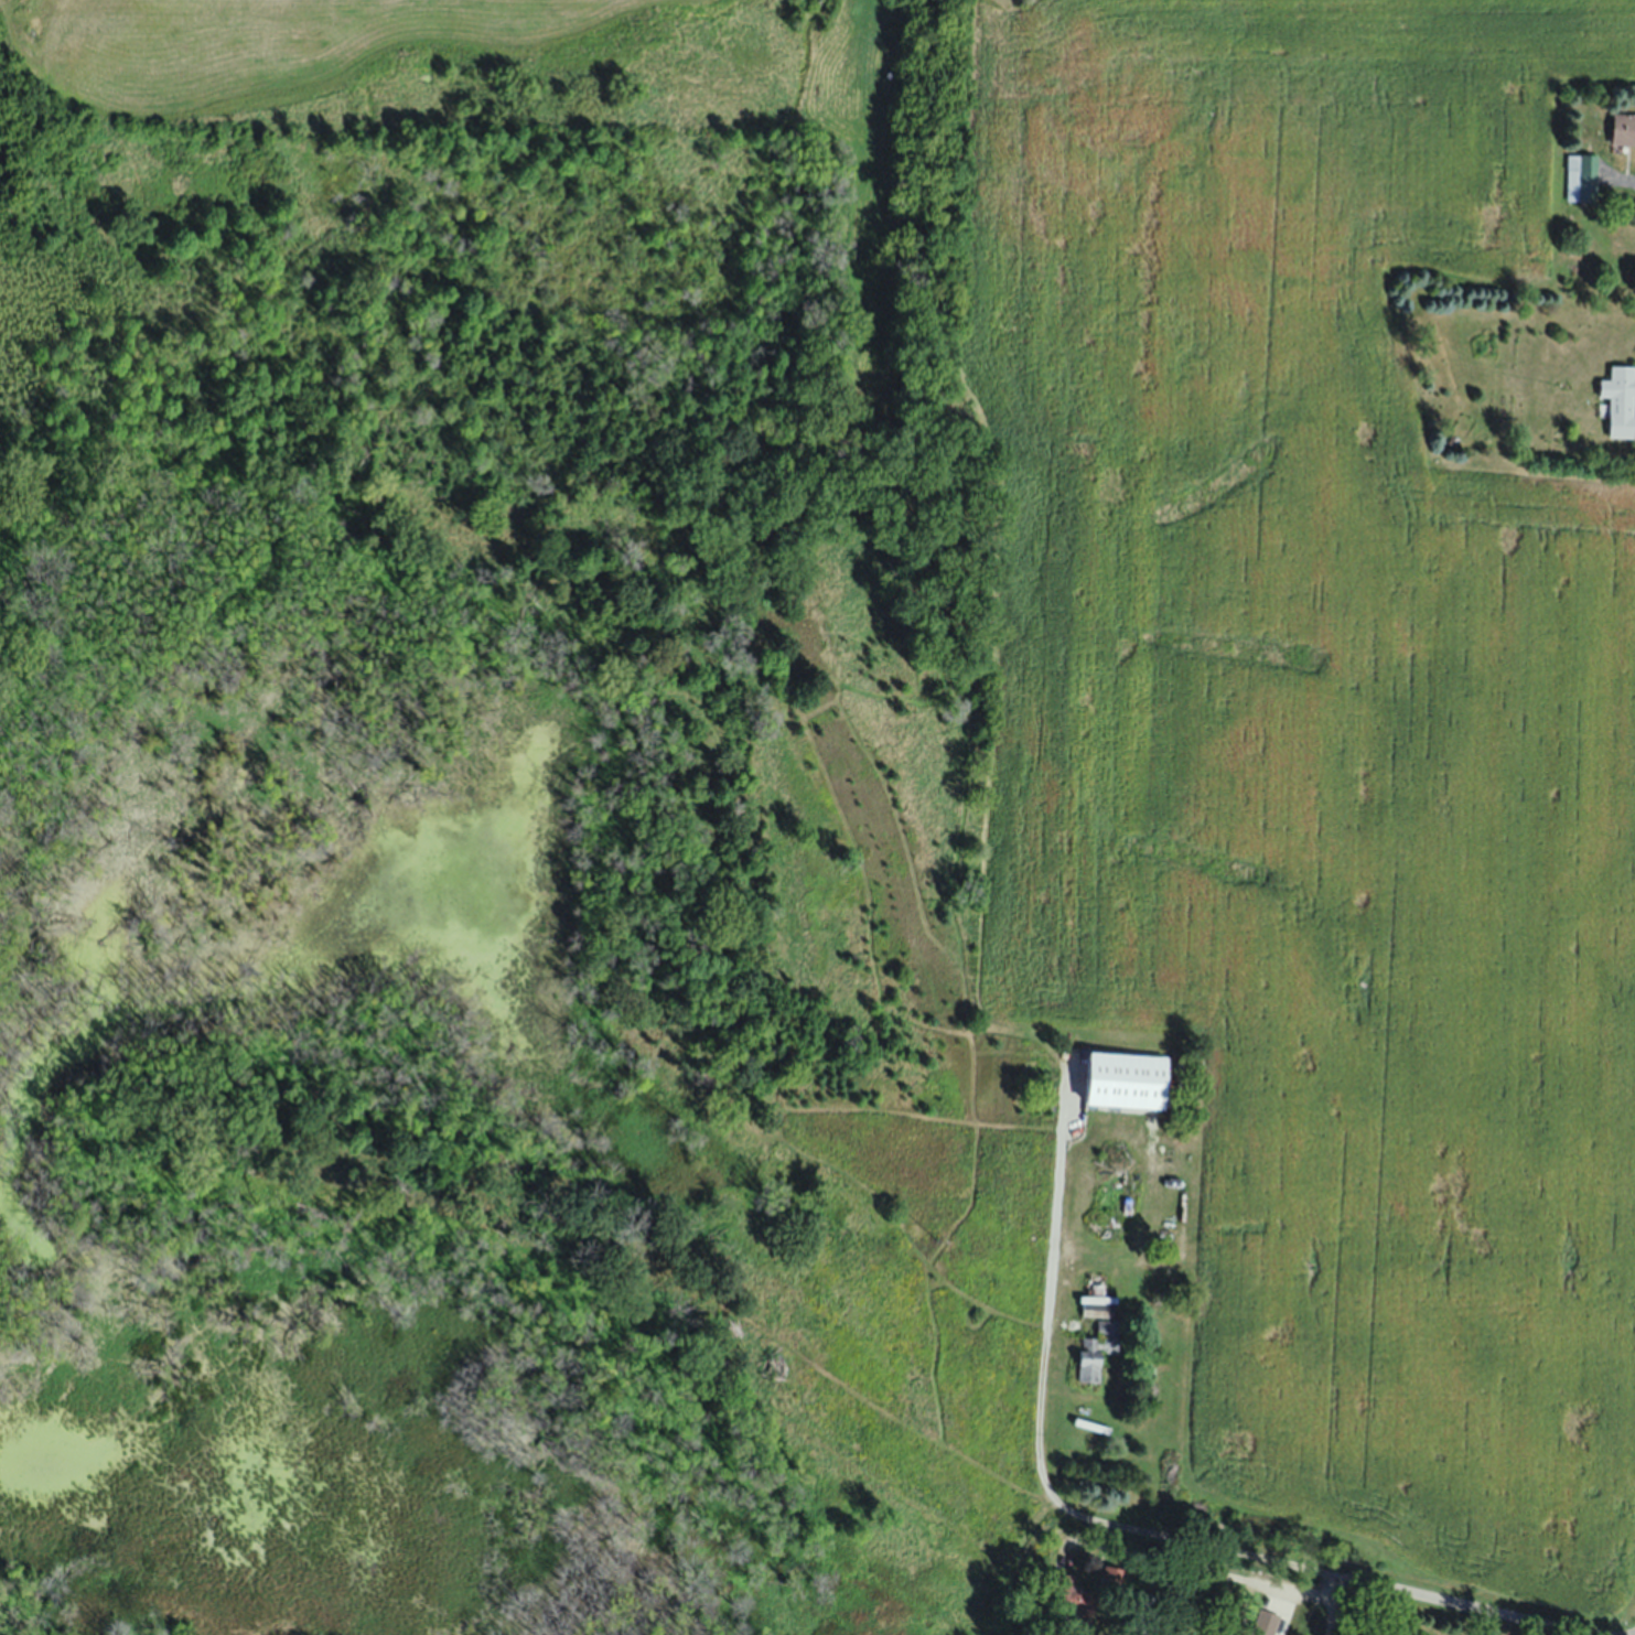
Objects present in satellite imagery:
building: (1618, 130)
building: (1579, 178)
road: (1617, 182)
building: (1622, 400)
building: (1093, 1351)
road: (1109, 1516)
building: (1059, 1589)
road: (1434, 1599)
building: (1262, 1623)
building: (1483, 1629)

